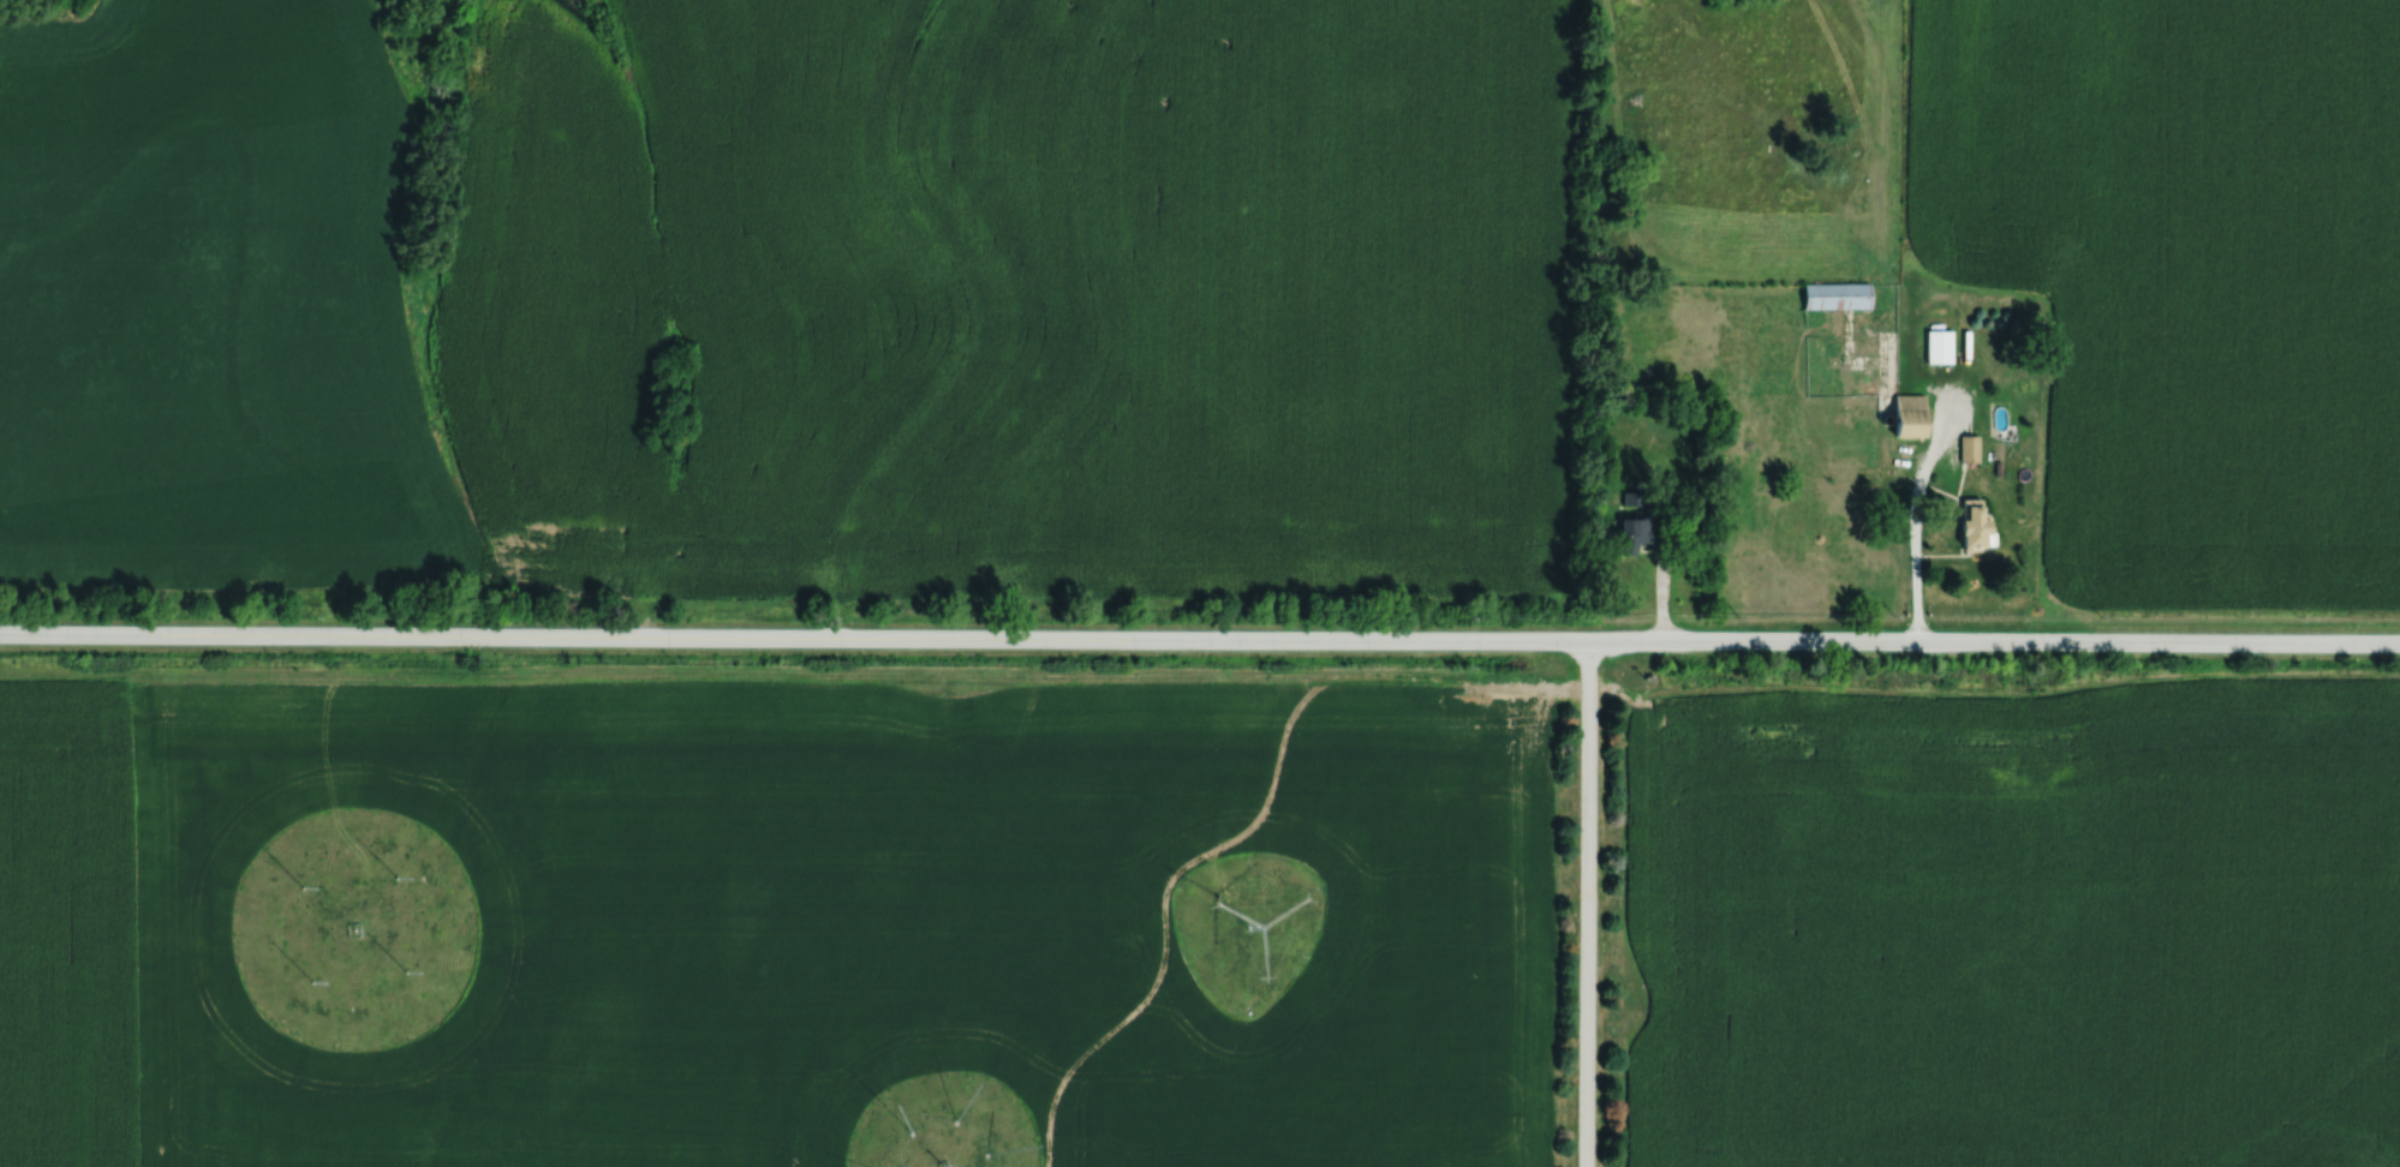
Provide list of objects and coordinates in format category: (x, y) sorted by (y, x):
building: (1837, 295)
building: (1940, 347)
building: (1911, 415)
building: (1969, 448)
building: (1631, 498)
road: (1912, 522)
building: (1976, 525)
building: (1634, 534)
road: (1199, 638)
road: (1992, 693)
road: (437, 749)
road: (1247, 825)
road: (1586, 903)

